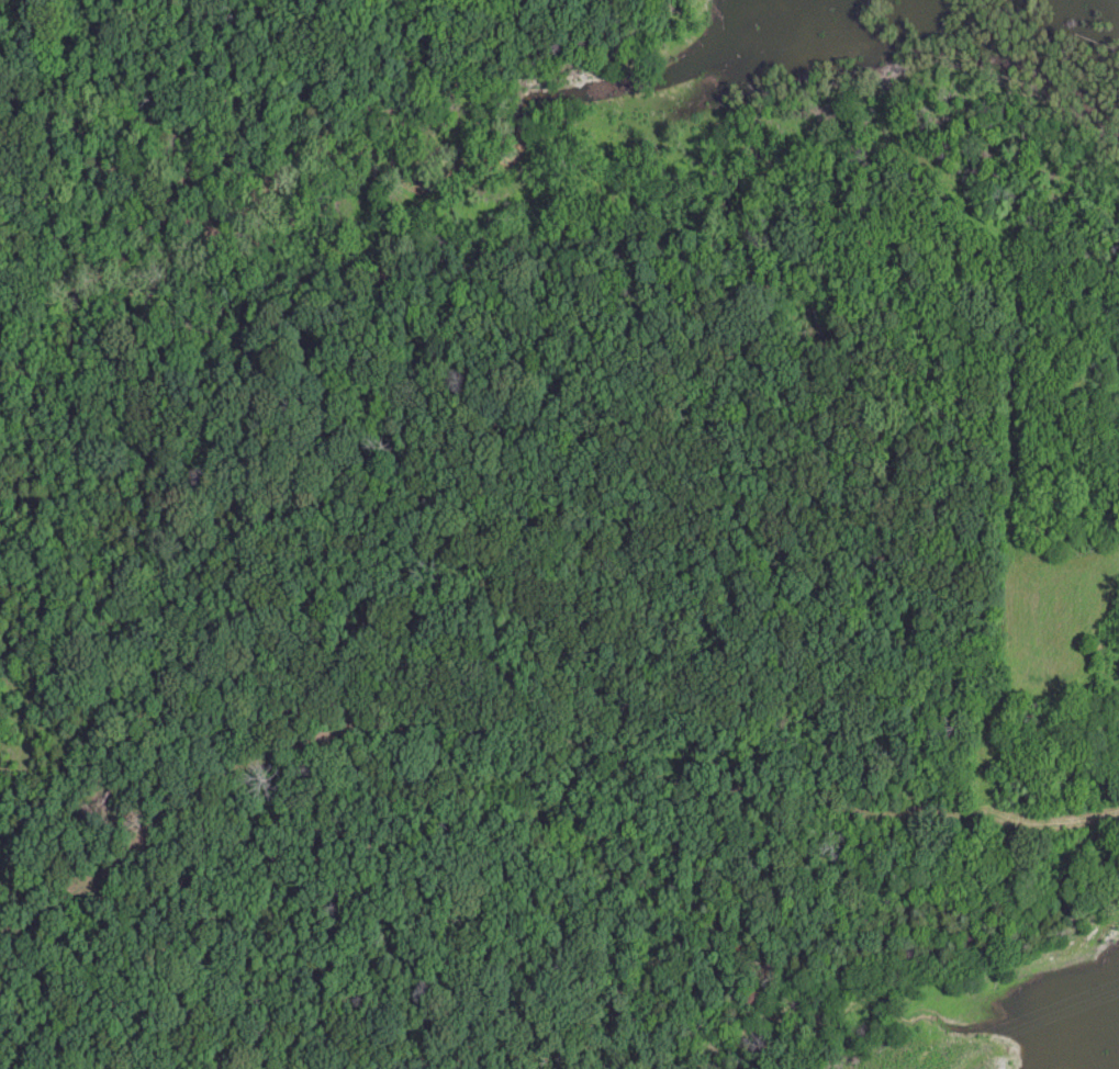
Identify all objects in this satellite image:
road: (234, 786)

